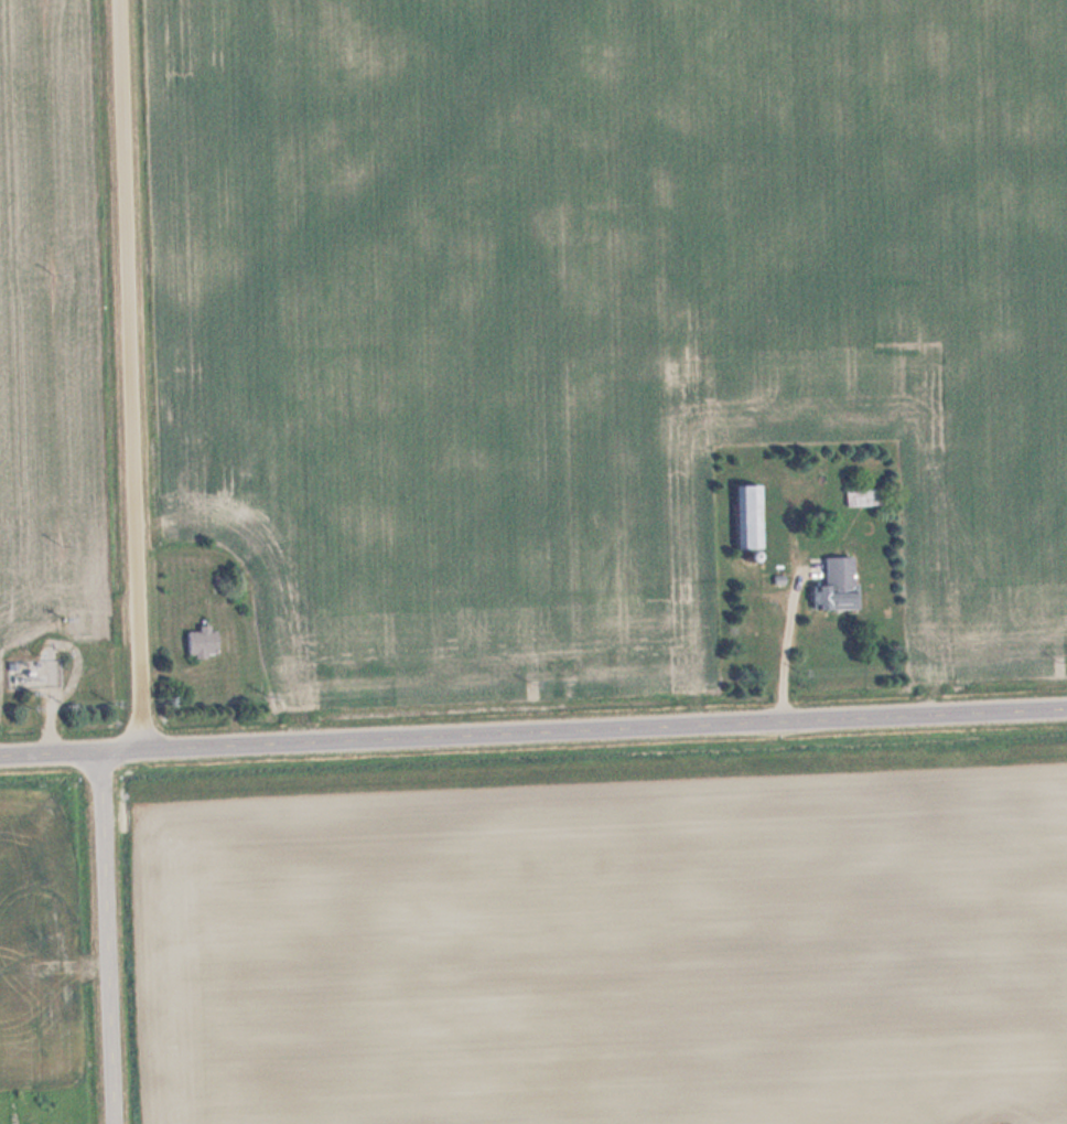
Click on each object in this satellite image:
road: (131, 373)
building: (869, 496)
building: (750, 515)
building: (838, 584)
building: (203, 641)
road: (604, 726)
road: (121, 748)
road: (50, 750)
road: (106, 936)

